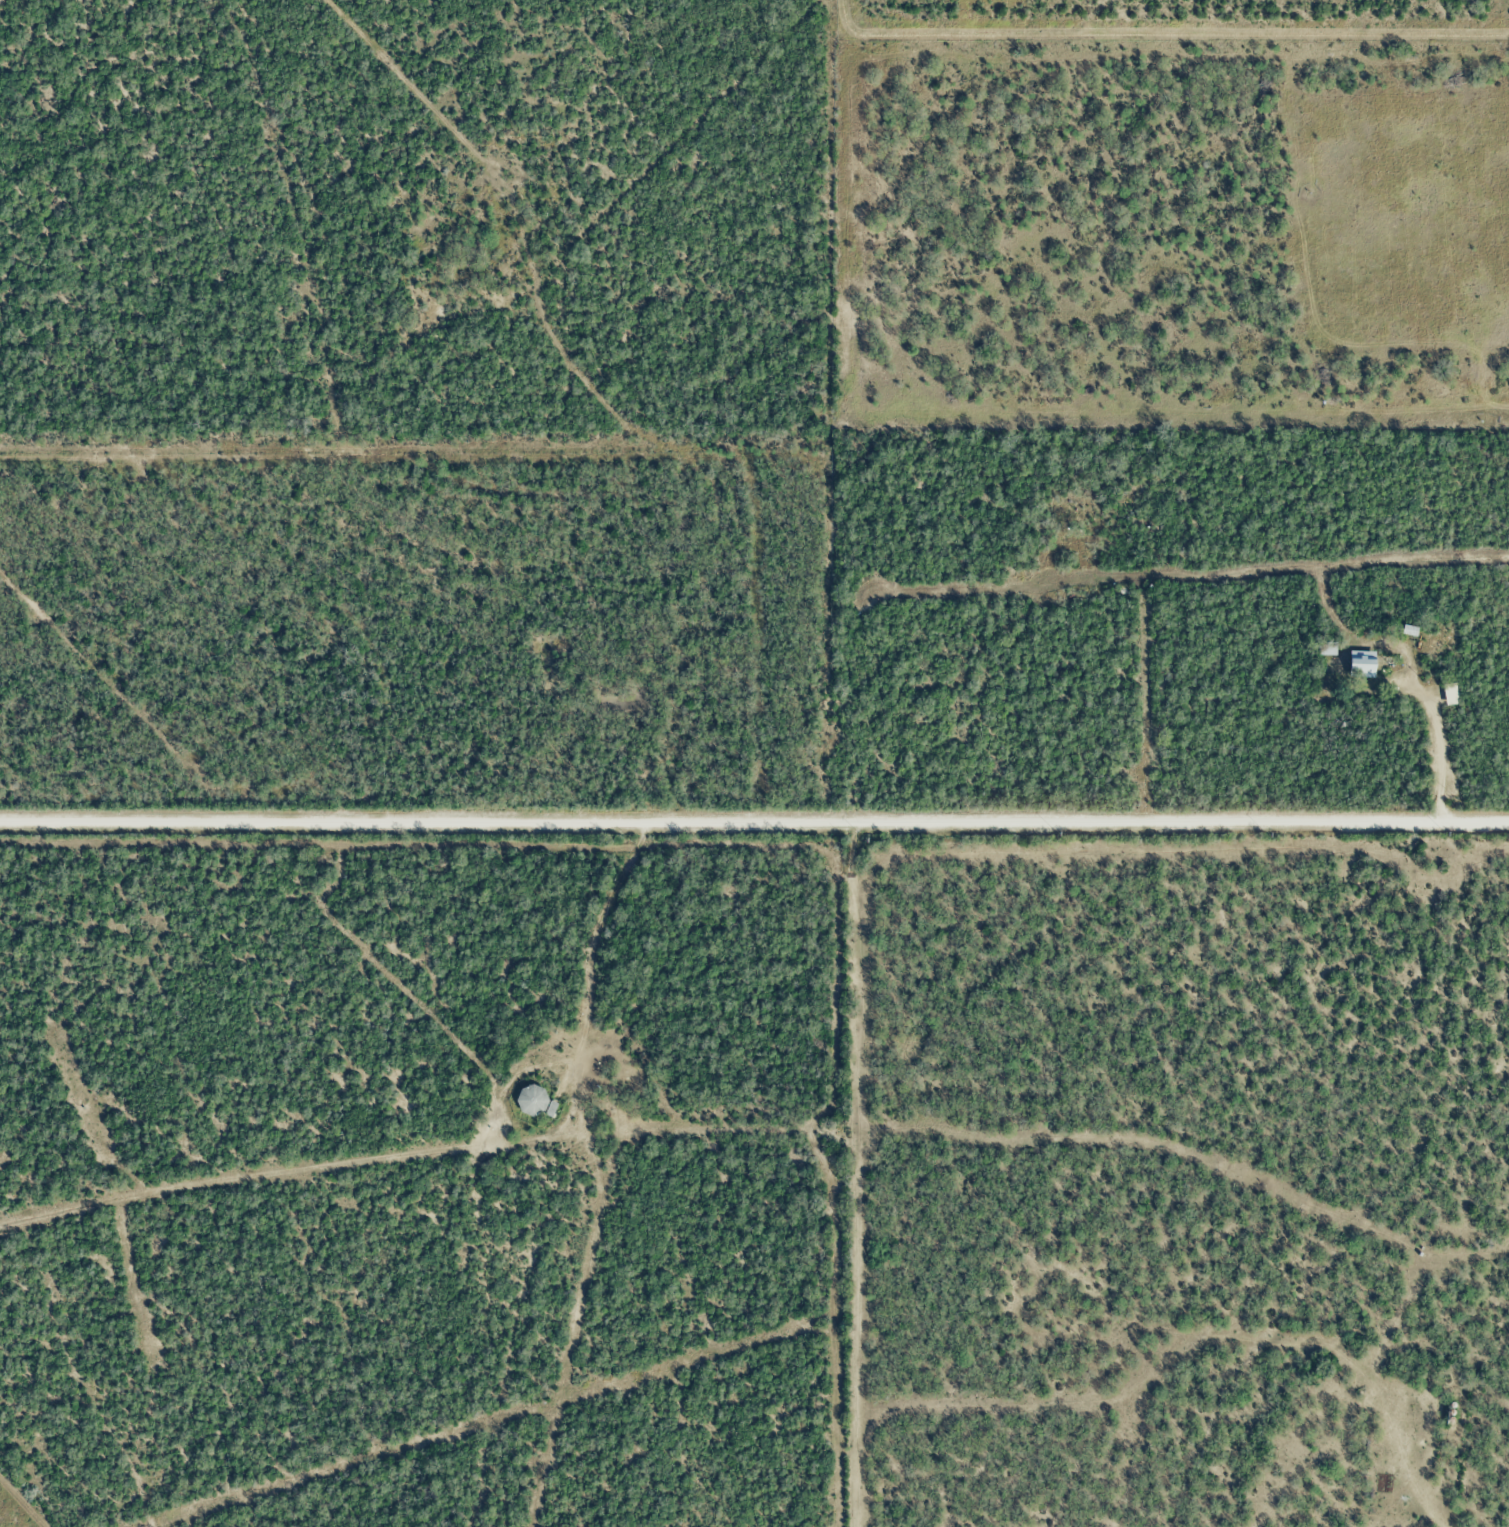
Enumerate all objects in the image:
building: (1408, 630)
building: (1360, 664)
building: (1450, 693)
road: (754, 824)
building: (532, 1098)

